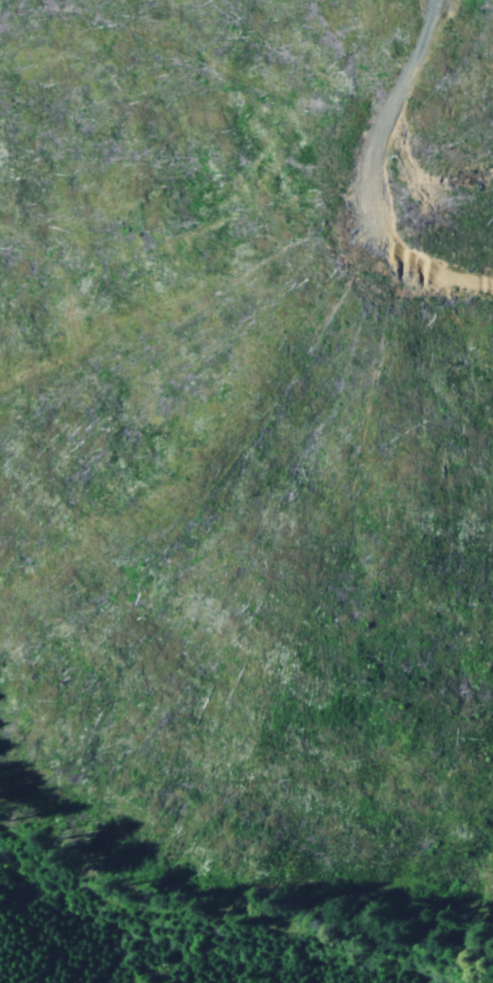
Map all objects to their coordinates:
road: (293, 213)

